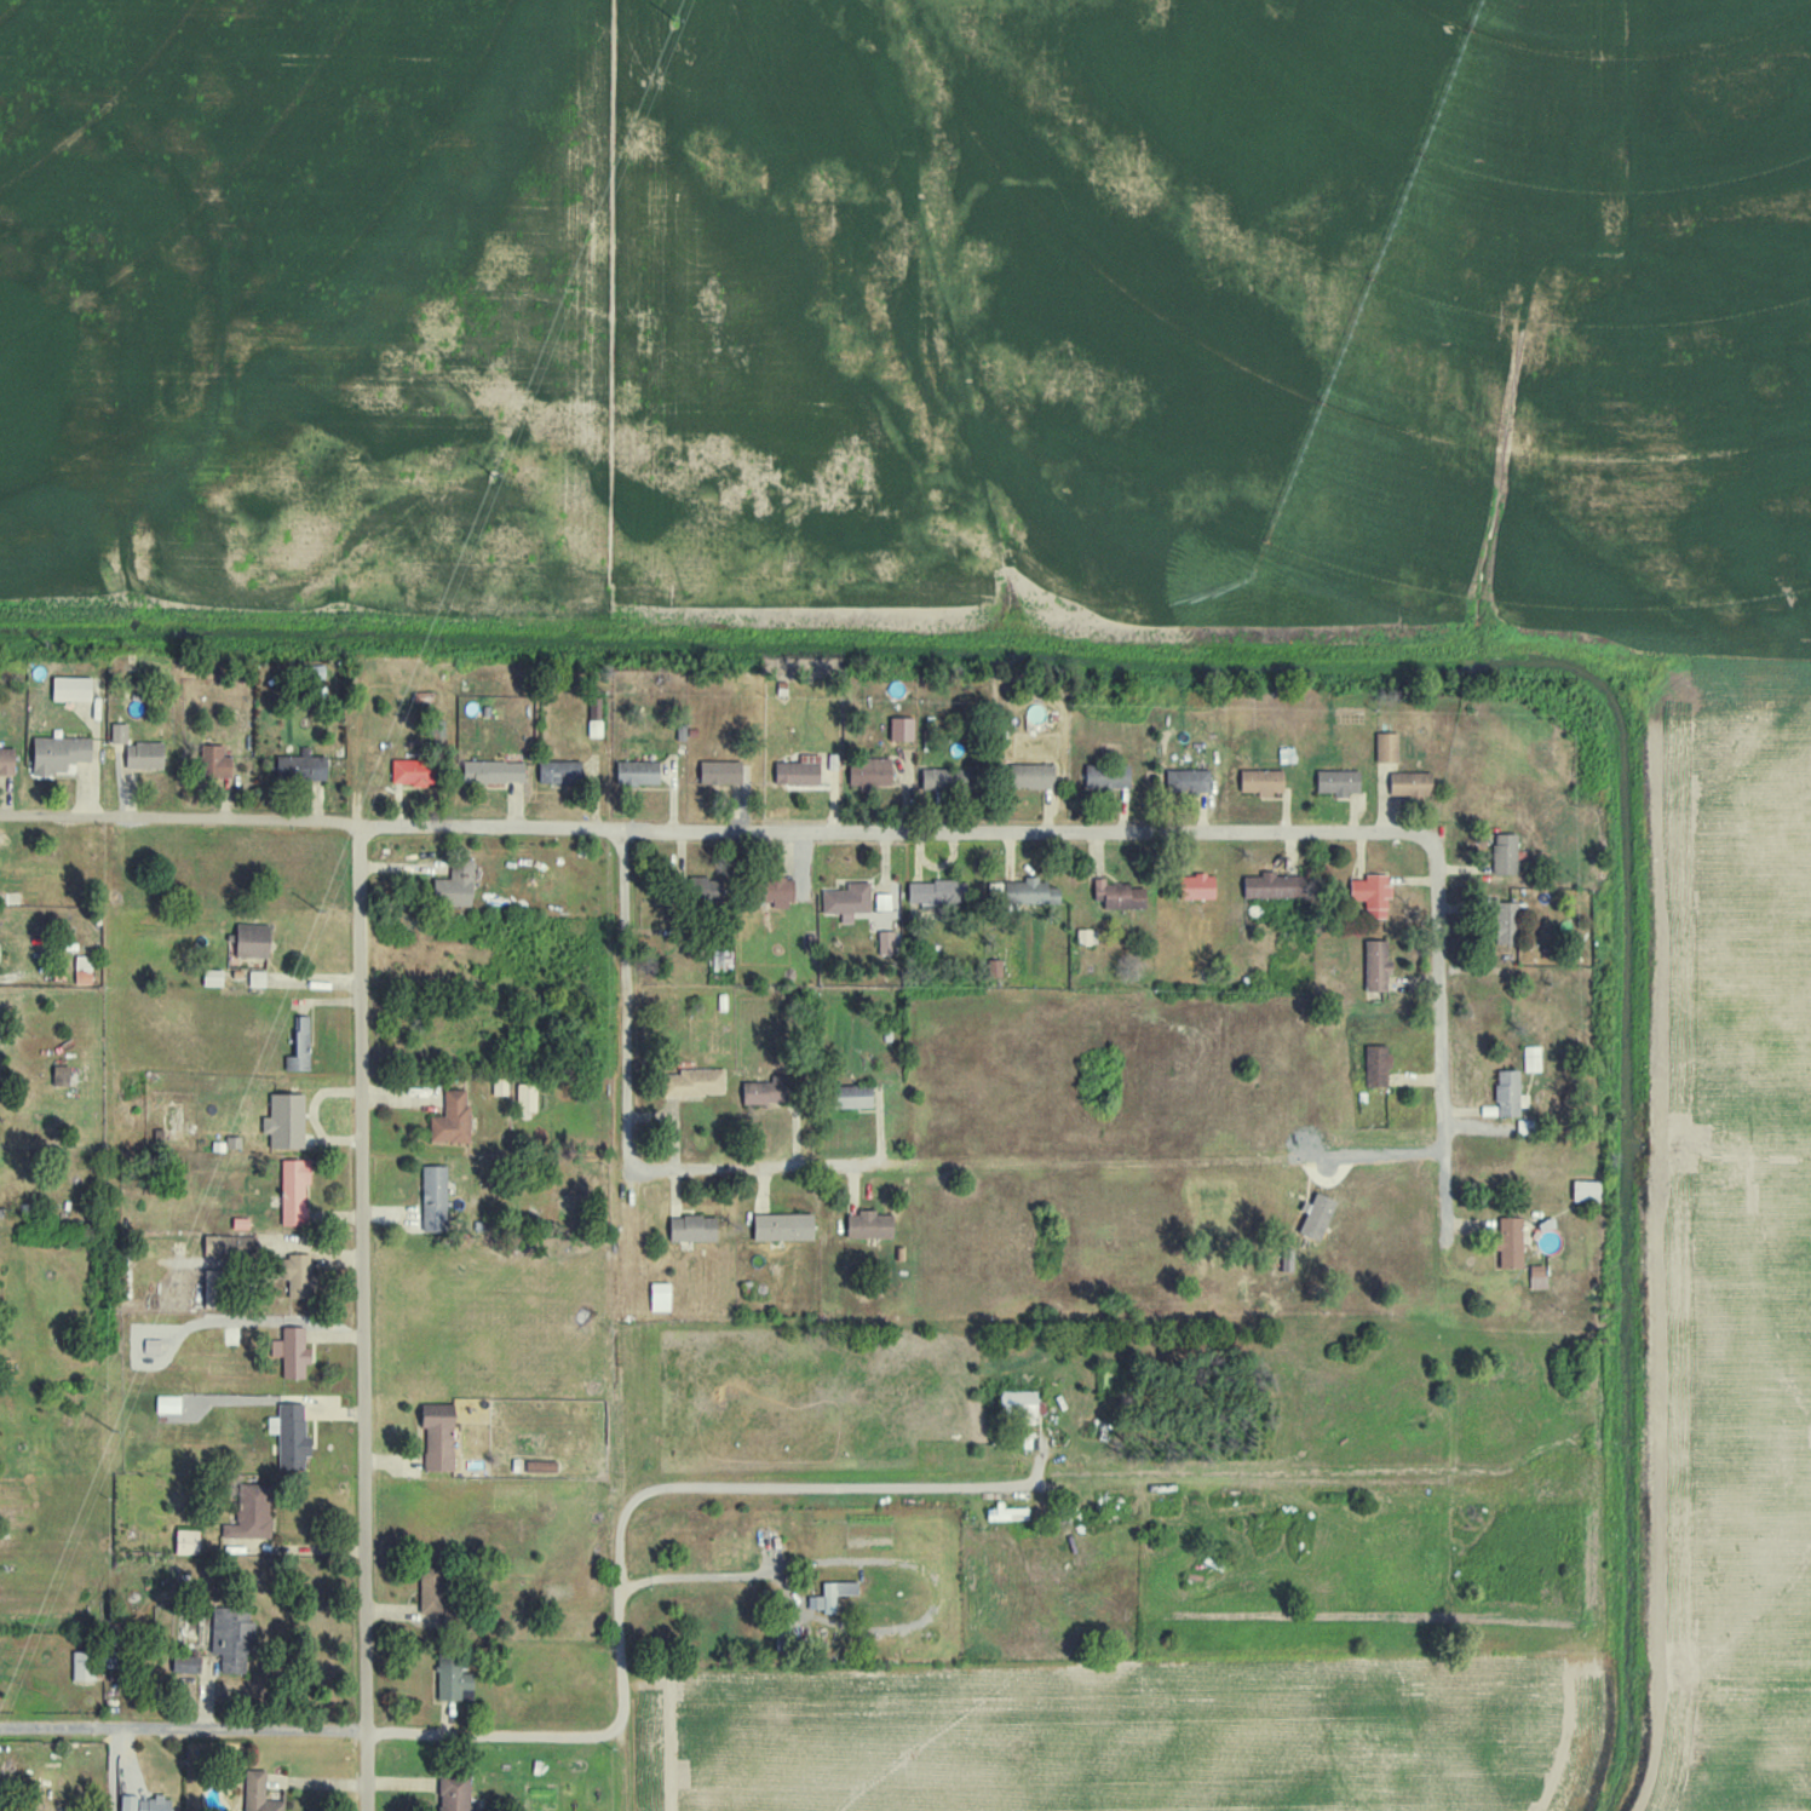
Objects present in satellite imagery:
building: (70, 688)
building: (902, 729)
building: (119, 732)
building: (1386, 747)
building: (58, 753)
building: (144, 754)
building: (6, 760)
building: (214, 761)
building: (301, 766)
building: (410, 771)
building: (493, 771)
building: (558, 771)
building: (799, 771)
building: (637, 772)
building: (720, 772)
building: (869, 772)
building: (1031, 776)
building: (1108, 776)
building: (938, 778)
building: (1188, 781)
building: (1263, 781)
building: (1338, 782)
building: (1408, 783)
road: (718, 829)
building: (1505, 853)
building: (455, 885)
building: (1197, 886)
building: (1270, 886)
building: (778, 891)
building: (1031, 892)
building: (1372, 893)
building: (1119, 895)
building: (847, 901)
building: (1507, 921)
building: (1086, 936)
building: (252, 939)
building: (887, 943)
building: (719, 960)
building: (1376, 966)
building: (994, 968)
building: (82, 970)
building: (212, 977)
building: (257, 979)
road: (1441, 1039)
building: (299, 1046)
building: (1531, 1058)
building: (1376, 1067)
building: (61, 1075)
building: (695, 1082)
building: (766, 1091)
building: (1507, 1093)
building: (853, 1096)
building: (525, 1099)
building: (452, 1119)
building: (284, 1121)
road: (629, 1145)
building: (1586, 1190)
building: (293, 1191)
building: (435, 1197)
building: (1317, 1217)
building: (869, 1225)
building: (783, 1226)
building: (692, 1228)
building: (1510, 1242)
building: (218, 1244)
building: (299, 1277)
building: (1537, 1277)
building: (213, 1287)
building: (659, 1297)
road: (363, 1318)
building: (151, 1345)
building: (294, 1349)
building: (1018, 1403)
building: (167, 1404)
building: (437, 1436)
building: (289, 1437)
building: (539, 1466)
road: (706, 1484)
building: (251, 1512)
building: (186, 1542)
building: (431, 1592)
building: (830, 1596)
building: (231, 1639)
building: (185, 1665)
building: (84, 1666)
building: (453, 1680)
road: (312, 1729)
building: (258, 1793)
building: (454, 1793)
building: (127, 1803)
building: (153, 1804)
building: (2, 1810)

